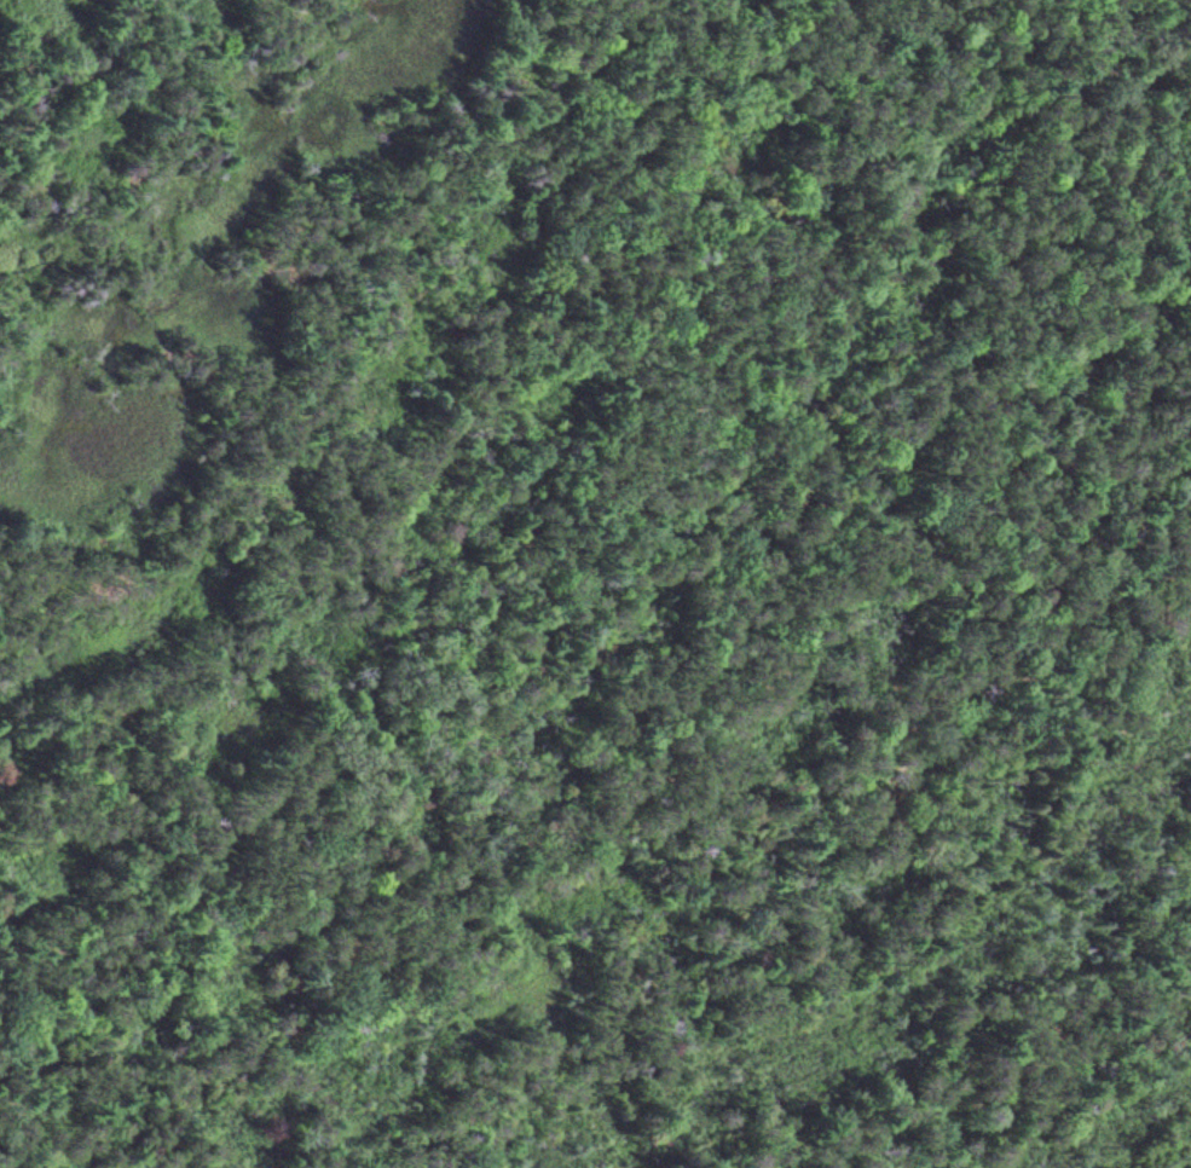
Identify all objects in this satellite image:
road: (73, 87)

